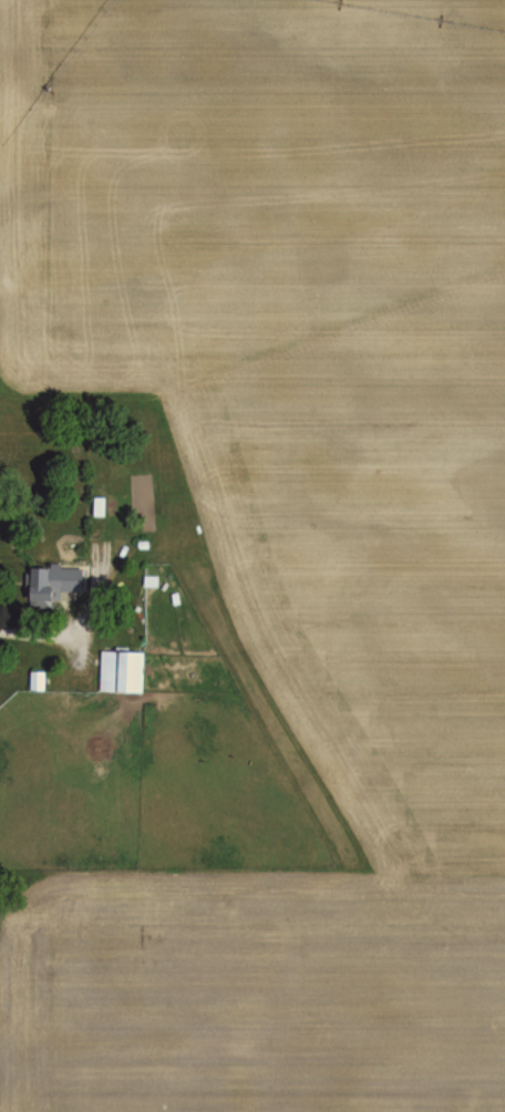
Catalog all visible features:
building: (58, 581)
road: (53, 635)
building: (124, 669)
building: (38, 678)

